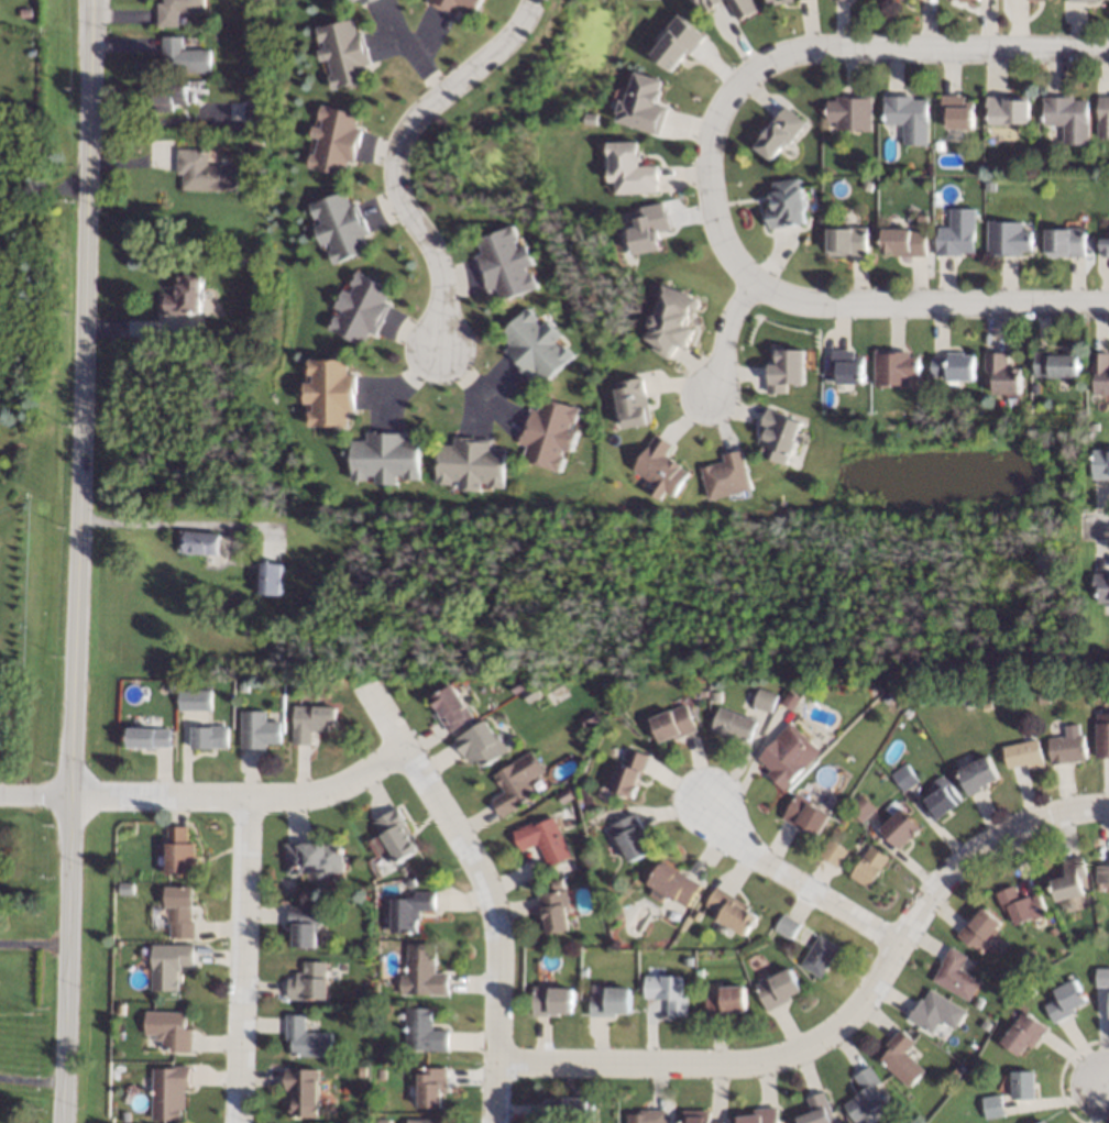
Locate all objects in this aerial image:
building: (349, 0)
building: (969, 0)
building: (1039, 0)
building: (366, 1)
building: (779, 1)
building: (1086, 1)
building: (707, 3)
building: (458, 5)
building: (744, 8)
building: (176, 10)
building: (26, 13)
building: (677, 42)
road: (834, 51)
building: (30, 52)
building: (344, 53)
road: (416, 54)
building: (185, 56)
building: (196, 86)
building: (172, 96)
building: (641, 102)
building: (1008, 108)
building: (957, 110)
building: (254, 111)
building: (852, 112)
building: (1103, 115)
building: (909, 117)
building: (1068, 117)
building: (780, 133)
building: (334, 140)
building: (256, 143)
building: (940, 145)
road: (400, 157)
building: (1045, 158)
building: (632, 169)
building: (204, 172)
building: (868, 184)
road: (42, 199)
building: (786, 205)
building: (922, 218)
building: (340, 227)
building: (648, 227)
building: (957, 233)
building: (1008, 239)
building: (849, 240)
building: (904, 241)
building: (1066, 242)
building: (1105, 246)
building: (505, 263)
building: (184, 295)
road: (905, 307)
building: (363, 308)
building: (673, 322)
road: (727, 339)
building: (537, 344)
building: (1056, 364)
building: (847, 365)
building: (955, 366)
building: (894, 367)
building: (787, 370)
building: (1101, 370)
building: (1004, 373)
road: (411, 376)
building: (828, 379)
road: (474, 386)
building: (331, 392)
building: (1001, 401)
building: (633, 403)
building: (1095, 426)
building: (550, 432)
building: (780, 436)
building: (386, 459)
building: (1100, 463)
building: (471, 464)
building: (662, 467)
building: (728, 476)
road: (1097, 525)
road: (174, 527)
building: (199, 542)
road: (74, 561)
building: (271, 577)
building: (1101, 586)
building: (516, 685)
building: (243, 686)
building: (171, 689)
building: (702, 692)
building: (531, 694)
building: (716, 696)
building: (1045, 697)
building: (195, 700)
building: (766, 700)
building: (791, 700)
building: (966, 700)
building: (3, 704)
building: (987, 705)
building: (450, 708)
building: (905, 711)
building: (590, 718)
building: (311, 722)
building: (1012, 722)
building: (673, 724)
building: (734, 725)
building: (257, 730)
building: (1102, 735)
building: (150, 737)
building: (210, 737)
building: (481, 744)
building: (1068, 747)
building: (1025, 752)
building: (789, 755)
building: (630, 773)
building: (977, 774)
building: (903, 777)
building: (516, 782)
building: (842, 789)
road: (33, 792)
building: (564, 795)
road: (243, 799)
building: (940, 801)
building: (860, 807)
building: (805, 814)
building: (599, 817)
building: (900, 828)
building: (393, 837)
building: (630, 837)
building: (542, 839)
building: (179, 851)
building: (832, 852)
building: (314, 858)
building: (869, 866)
building: (404, 869)
building: (1102, 873)
building: (1069, 879)
road: (798, 880)
building: (410, 882)
building: (673, 884)
building: (125, 889)
road: (488, 893)
building: (1022, 905)
building: (179, 911)
building: (409, 911)
building: (553, 911)
building: (732, 911)
building: (615, 914)
building: (696, 915)
building: (305, 925)
building: (786, 926)
building: (979, 931)
building: (1053, 931)
building: (819, 956)
road: (245, 960)
building: (688, 961)
building: (169, 965)
building: (582, 971)
building: (421, 972)
building: (955, 975)
building: (1102, 977)
building: (309, 981)
building: (777, 988)
building: (1031, 991)
building: (666, 992)
building: (551, 1001)
building: (725, 1001)
building: (1066, 1001)
building: (610, 1002)
building: (977, 1002)
building: (120, 1009)
building: (935, 1012)
building: (359, 1015)
road: (841, 1020)
building: (986, 1024)
building: (169, 1030)
building: (422, 1030)
building: (1024, 1033)
building: (307, 1038)
building: (385, 1052)
building: (901, 1058)
building: (362, 1070)
building: (955, 1071)
building: (380, 1074)
road: (29, 1082)
building: (1022, 1085)
road: (1105, 1085)
building: (430, 1086)
building: (169, 1091)
building: (304, 1091)
building: (865, 1094)
building: (361, 1100)
building: (992, 1107)
building: (568, 1110)
building: (816, 1110)
building: (125, 1115)
building: (760, 1115)
building: (647, 1116)
building: (695, 1116)
building: (382, 1121)
building: (424, 1121)
building: (1042, 1122)

